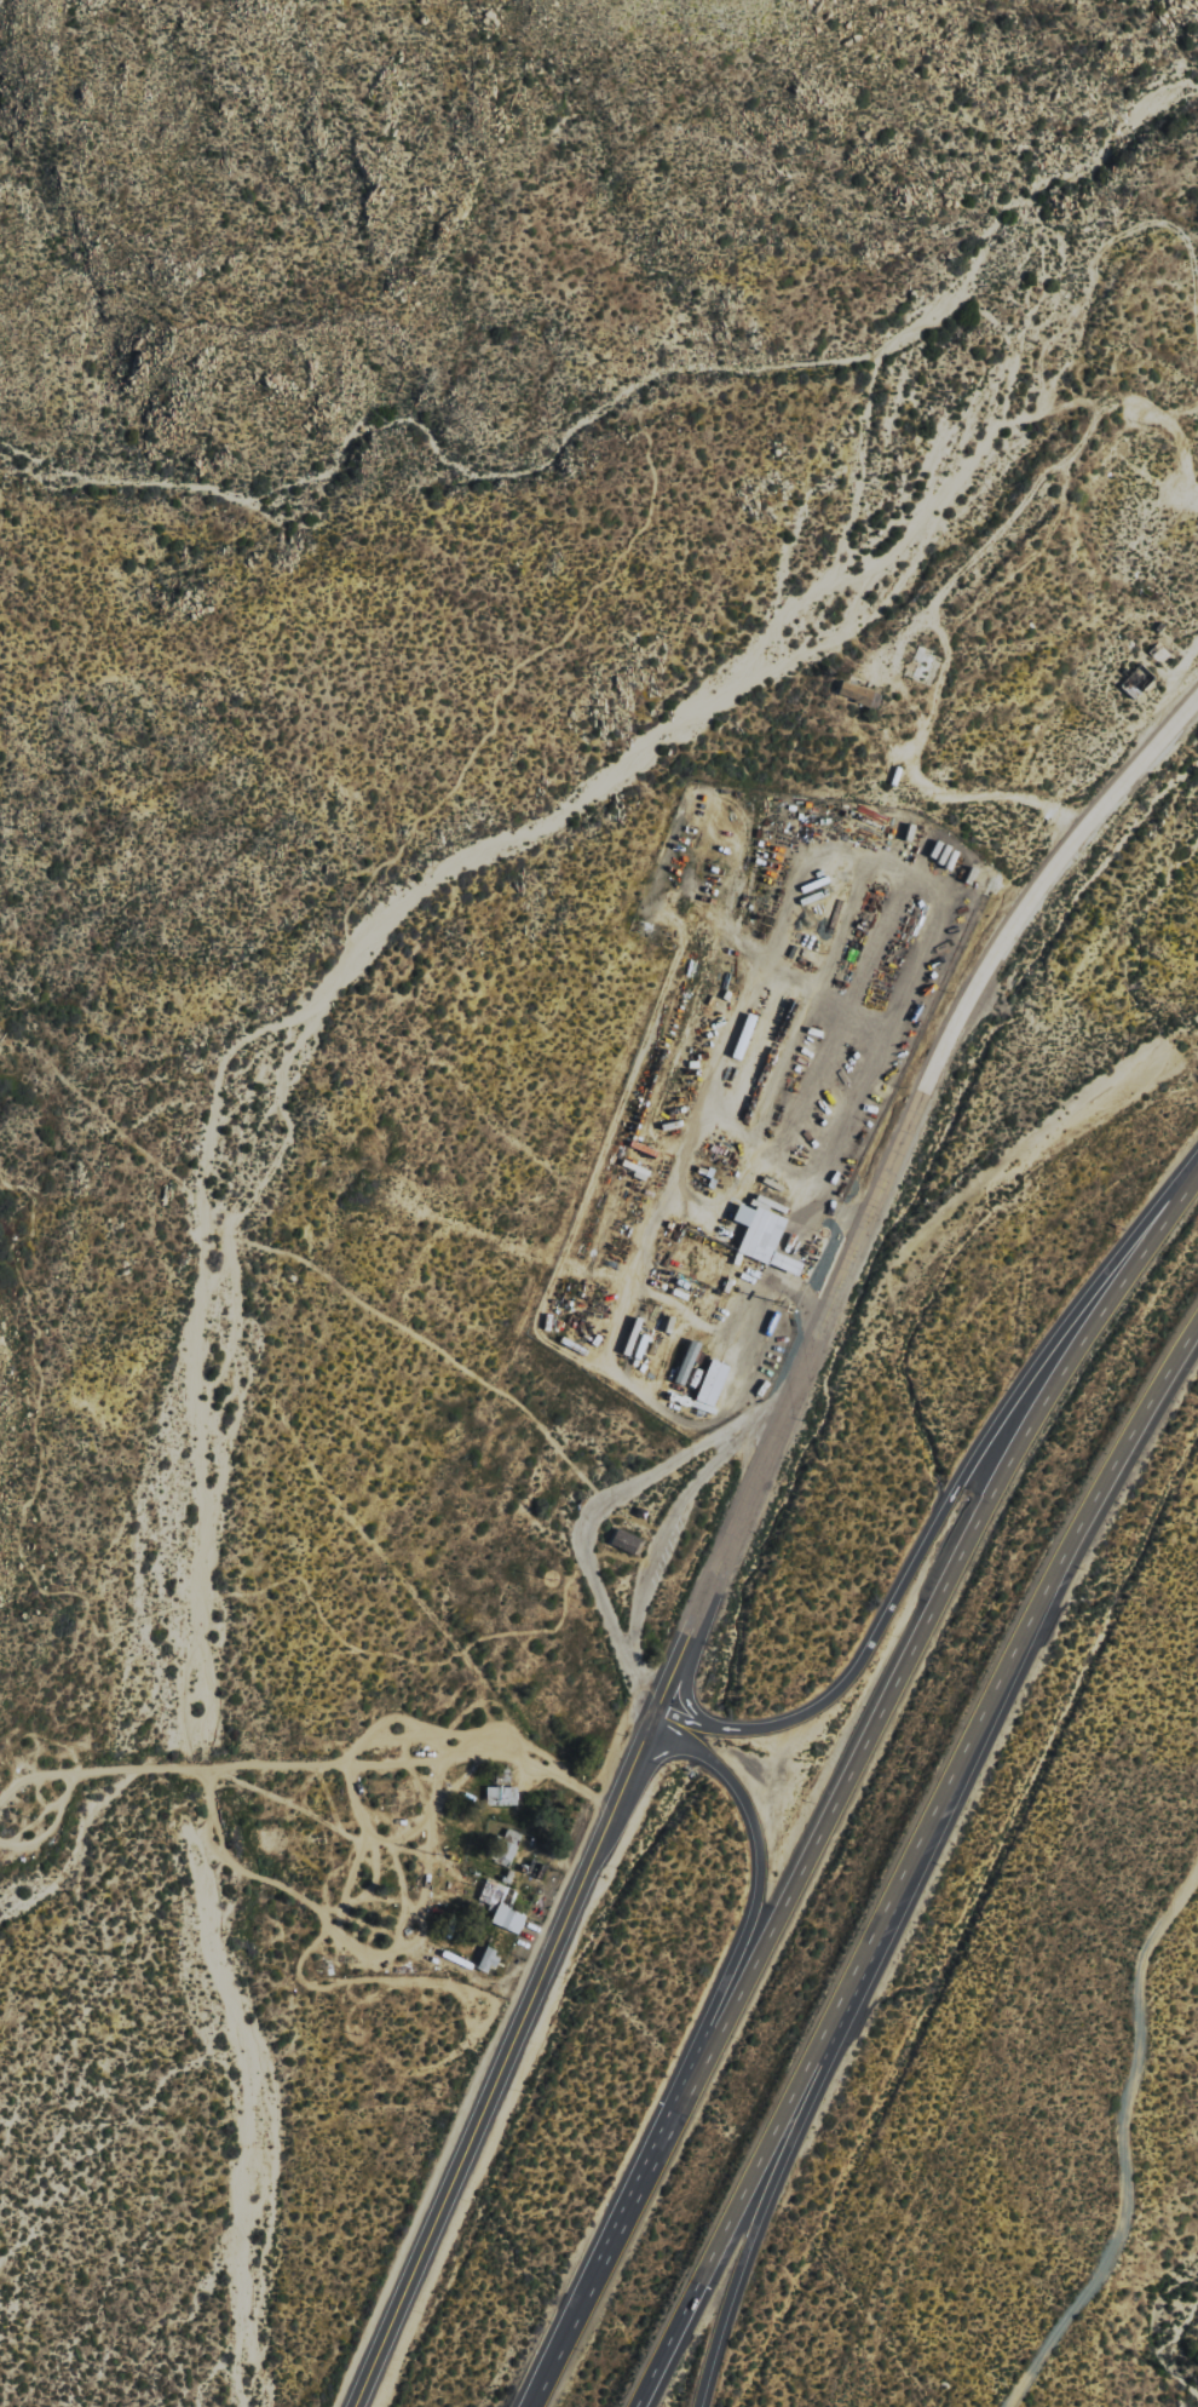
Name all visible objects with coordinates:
building: (859, 693)
park: (342, 890)
road: (914, 1130)
building: (764, 1236)
building: (712, 1385)
road: (950, 1501)
road: (1021, 1633)
road: (678, 1658)
road: (908, 1670)
road: (687, 1678)
building: (508, 1918)
road: (748, 1936)
building: (489, 1960)
road: (506, 2060)
road: (779, 2126)
road: (1113, 2132)
road: (774, 2179)
road: (588, 2294)
road: (664, 2351)

